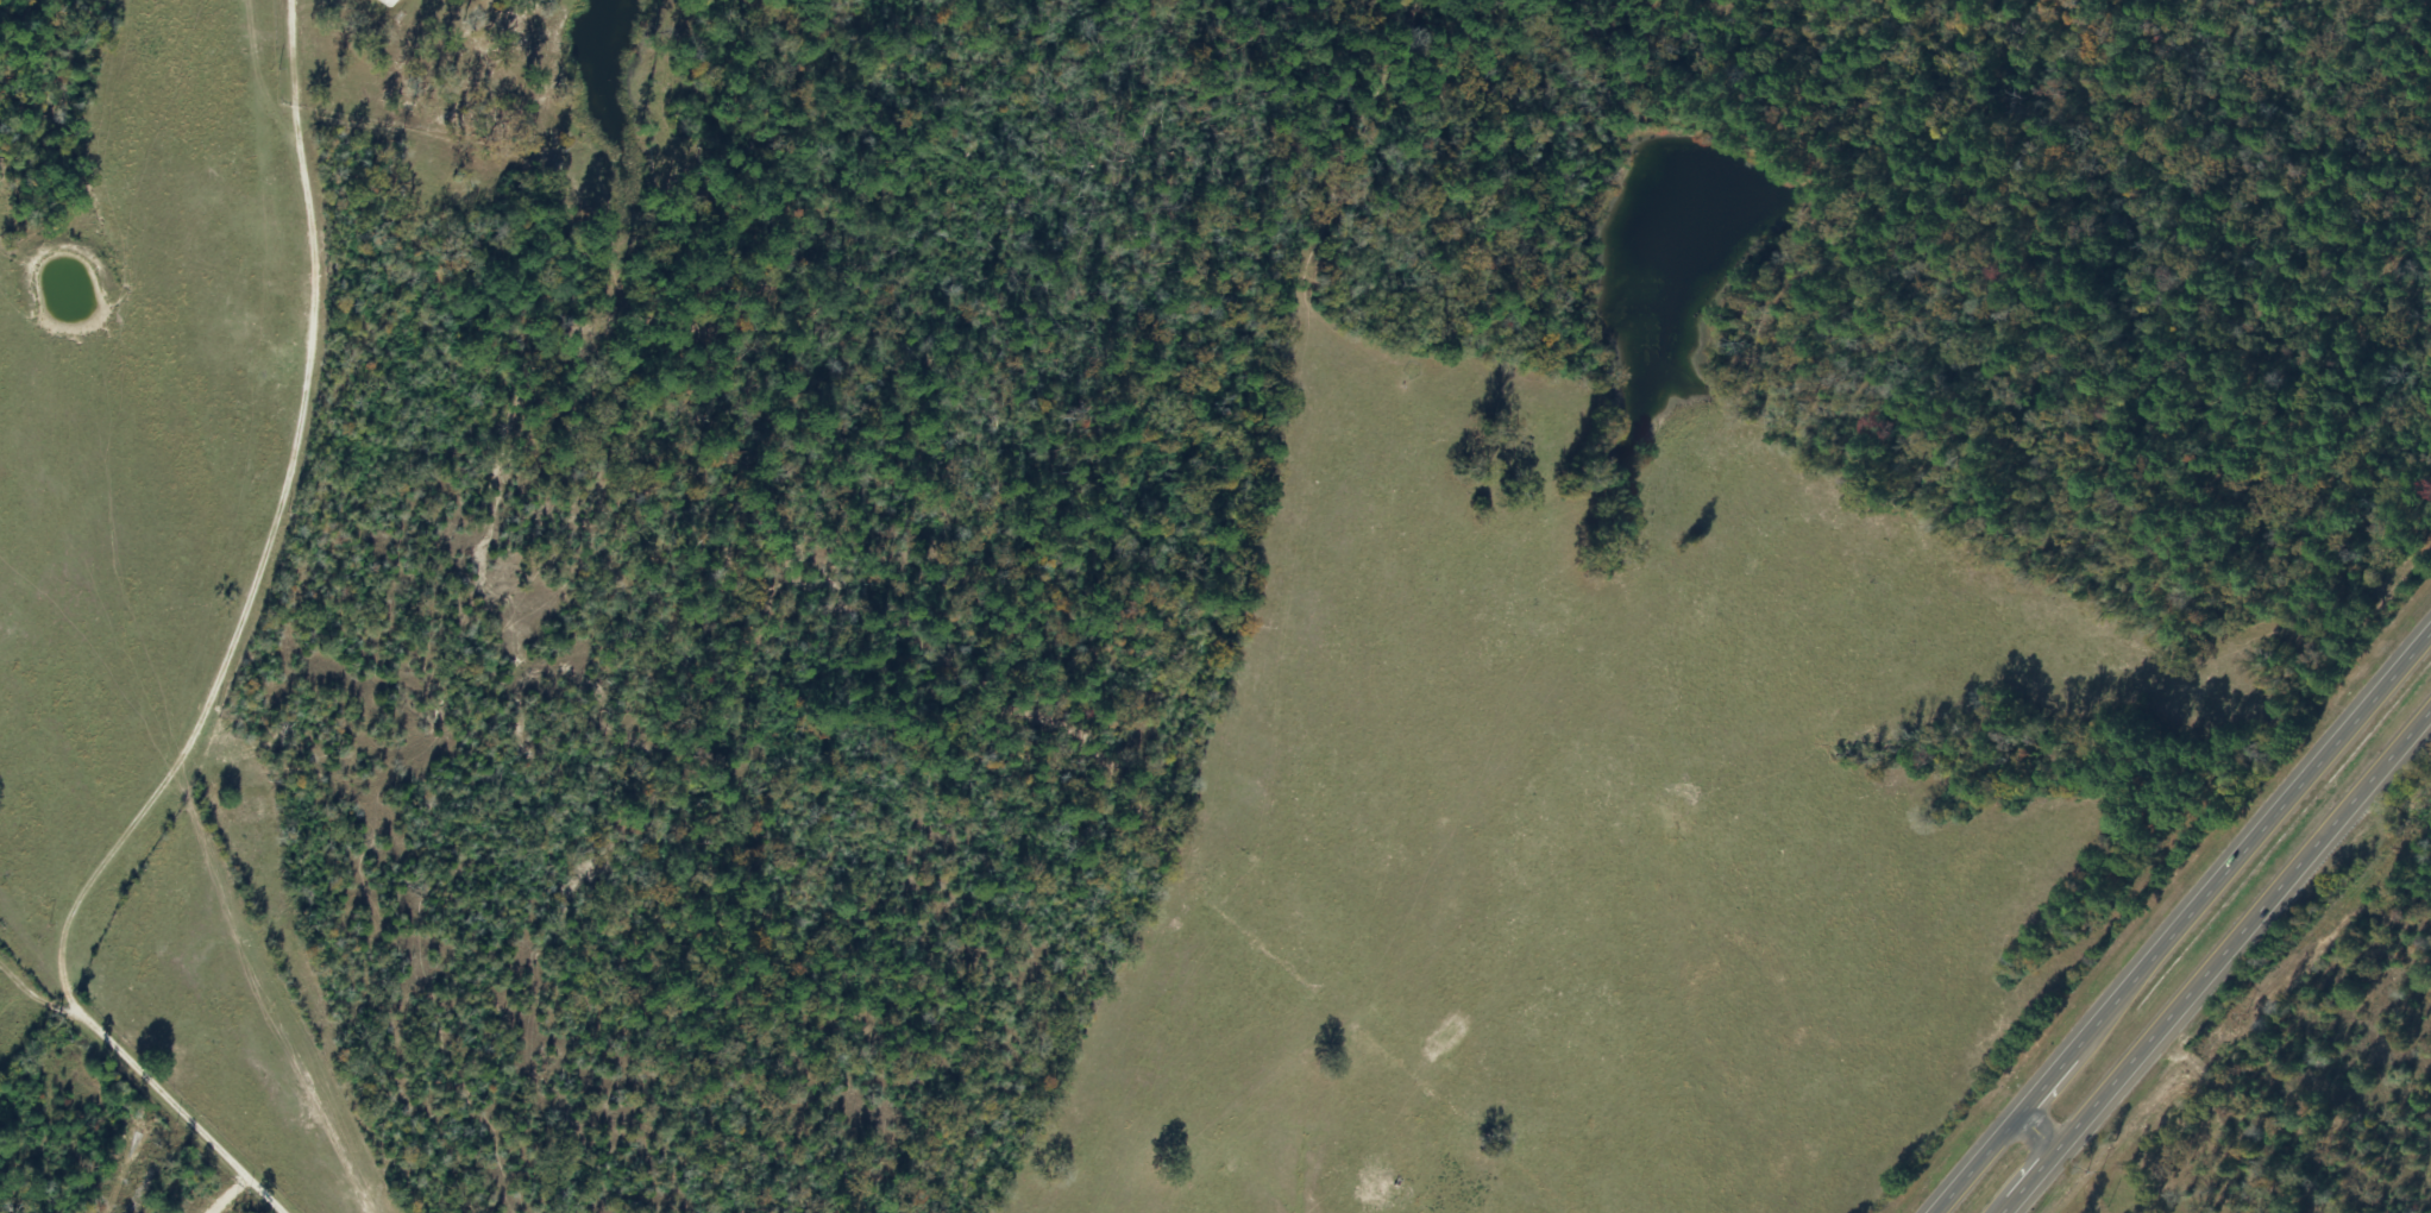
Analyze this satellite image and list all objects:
building: (381, 1)
road: (304, 535)
road: (2262, 830)
road: (2243, 928)
road: (48, 1004)
road: (2058, 1069)
road: (189, 1117)
road: (2063, 1161)
road: (1979, 1162)
road: (2028, 1181)

